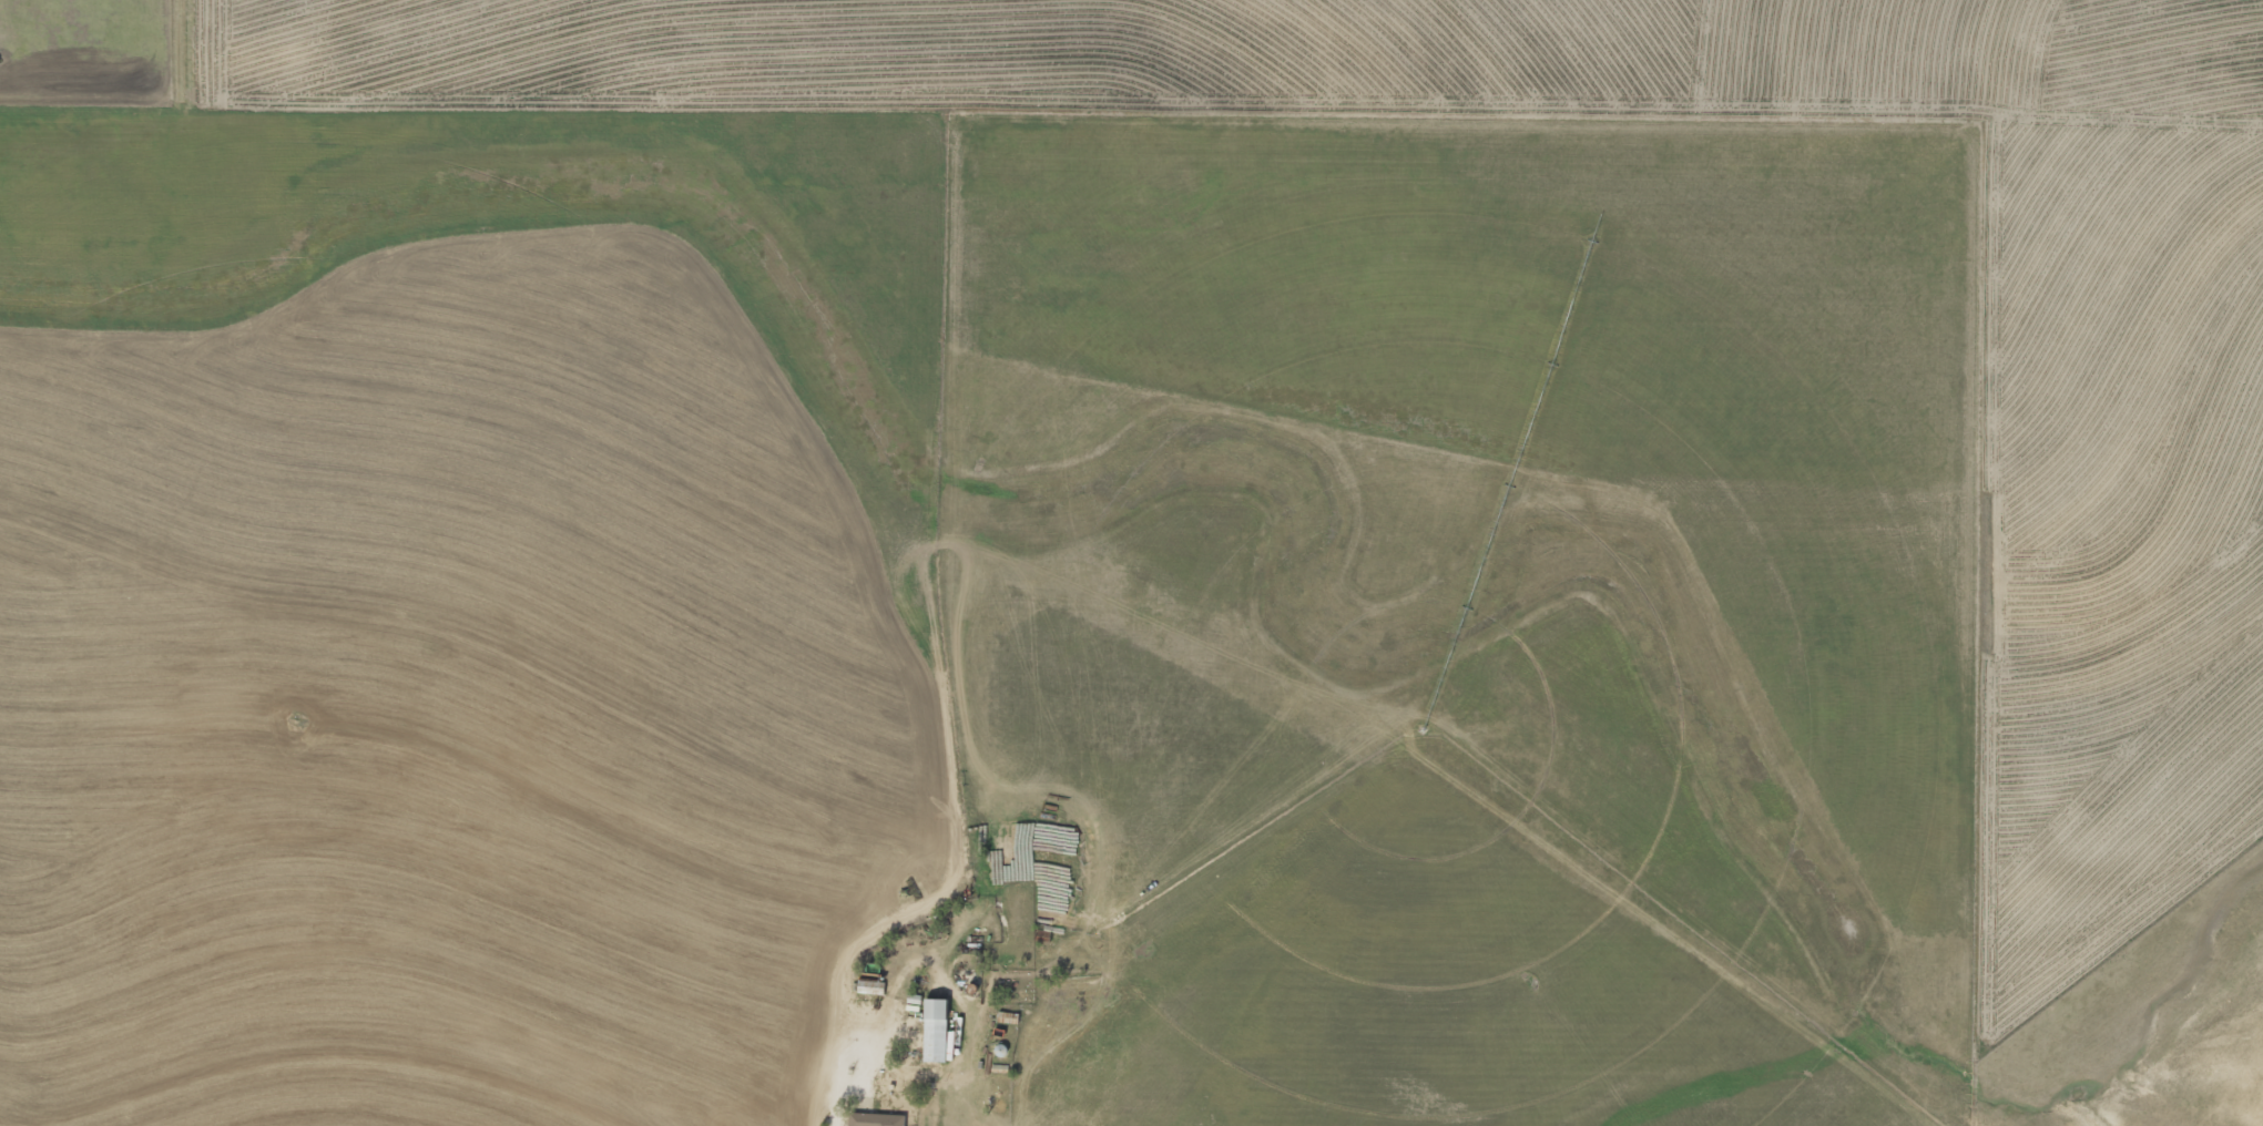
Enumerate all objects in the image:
building: (937, 1028)
building: (878, 1119)

